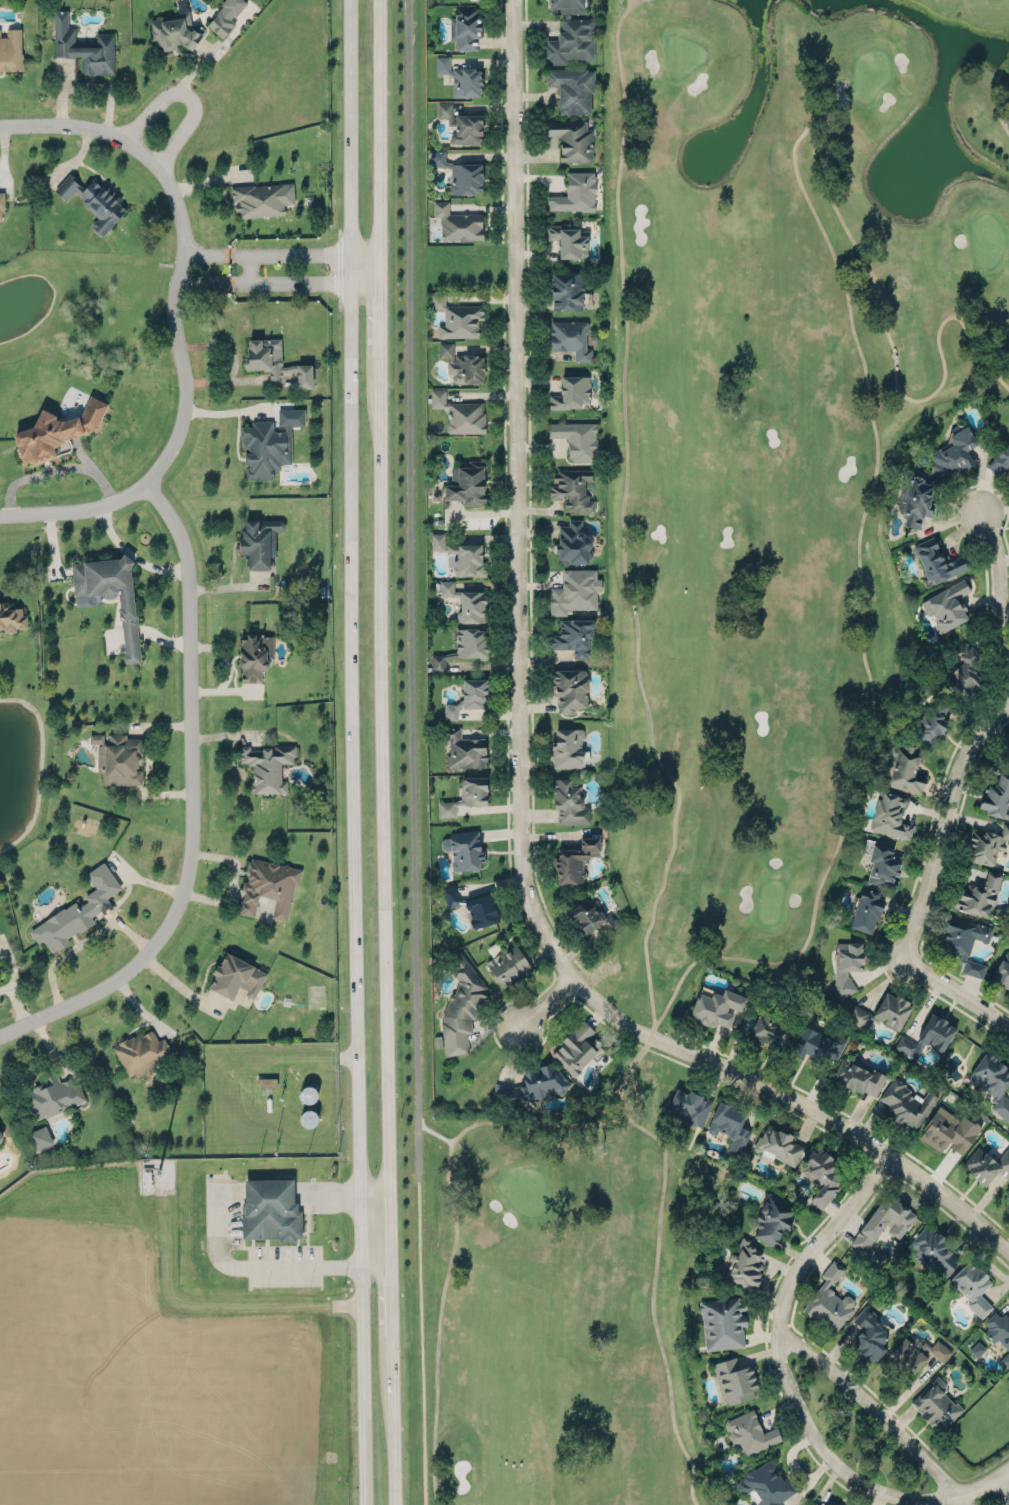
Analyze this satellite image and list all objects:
building: (565, 2)
building: (225, 15)
building: (465, 28)
building: (174, 31)
building: (570, 40)
building: (83, 45)
building: (11, 49)
building: (461, 76)
building: (572, 88)
road: (189, 95)
road: (1000, 114)
building: (462, 123)
road: (64, 127)
road: (379, 127)
building: (572, 140)
road: (3, 146)
building: (460, 172)
building: (575, 192)
building: (262, 199)
building: (94, 200)
building: (1, 207)
building: (457, 221)
building: (569, 239)
road: (205, 252)
road: (303, 253)
road: (250, 268)
road: (379, 268)
road: (202, 283)
road: (304, 283)
building: (566, 289)
road: (173, 305)
road: (380, 316)
building: (457, 318)
building: (569, 337)
building: (274, 359)
road: (862, 361)
building: (462, 363)
building: (571, 391)
building: (460, 412)
road: (227, 413)
building: (56, 428)
building: (577, 437)
building: (264, 447)
building: (955, 452)
building: (999, 460)
road: (58, 470)
building: (466, 484)
building: (571, 489)
building: (915, 498)
road: (77, 511)
building: (259, 539)
building: (573, 543)
road: (133, 554)
building: (460, 554)
building: (938, 563)
road: (407, 579)
road: (999, 583)
building: (573, 591)
building: (110, 594)
building: (466, 602)
building: (946, 605)
building: (11, 617)
road: (350, 629)
building: (573, 636)
building: (470, 642)
building: (254, 656)
park: (717, 658)
building: (439, 661)
building: (963, 672)
building: (569, 688)
building: (468, 696)
building: (931, 721)
building: (565, 746)
building: (464, 748)
building: (1006, 750)
road: (518, 755)
building: (118, 758)
building: (267, 766)
building: (905, 768)
road: (667, 771)
road: (383, 784)
building: (466, 795)
building: (996, 796)
building: (568, 800)
road: (191, 803)
building: (889, 815)
building: (985, 844)
building: (464, 849)
building: (574, 860)
building: (882, 864)
road: (925, 884)
building: (268, 886)
building: (977, 895)
building: (450, 896)
building: (77, 910)
building: (481, 910)
building: (865, 911)
building: (590, 916)
road: (82, 942)
building: (965, 942)
building: (508, 965)
building: (845, 968)
building: (1002, 971)
building: (235, 976)
building: (0, 980)
road: (180, 983)
road: (547, 1002)
road: (16, 1003)
building: (461, 1006)
building: (716, 1007)
building: (880, 1012)
building: (769, 1031)
building: (928, 1035)
building: (819, 1044)
building: (576, 1048)
building: (140, 1052)
building: (858, 1076)
building: (993, 1082)
building: (532, 1085)
building: (55, 1095)
building: (905, 1103)
building: (688, 1107)
building: (729, 1126)
building: (948, 1131)
building: (1, 1137)
building: (40, 1137)
building: (778, 1145)
building: (987, 1165)
building: (822, 1175)
building: (1006, 1199)
building: (270, 1209)
building: (772, 1221)
building: (883, 1222)
road: (456, 1234)
road: (822, 1236)
road: (376, 1239)
building: (933, 1252)
building: (744, 1264)
road: (259, 1268)
road: (392, 1273)
building: (972, 1286)
building: (829, 1300)
building: (722, 1322)
building: (998, 1331)
building: (869, 1334)
building: (907, 1356)
building: (734, 1381)
road: (361, 1382)
building: (936, 1405)
road: (872, 1406)
road: (394, 1416)
building: (749, 1432)
road: (829, 1456)
road: (1002, 1471)
building: (766, 1484)
road: (977, 1486)
road: (1002, 1486)
road: (961, 1499)
building: (831, 1502)
building: (808, 1504)

